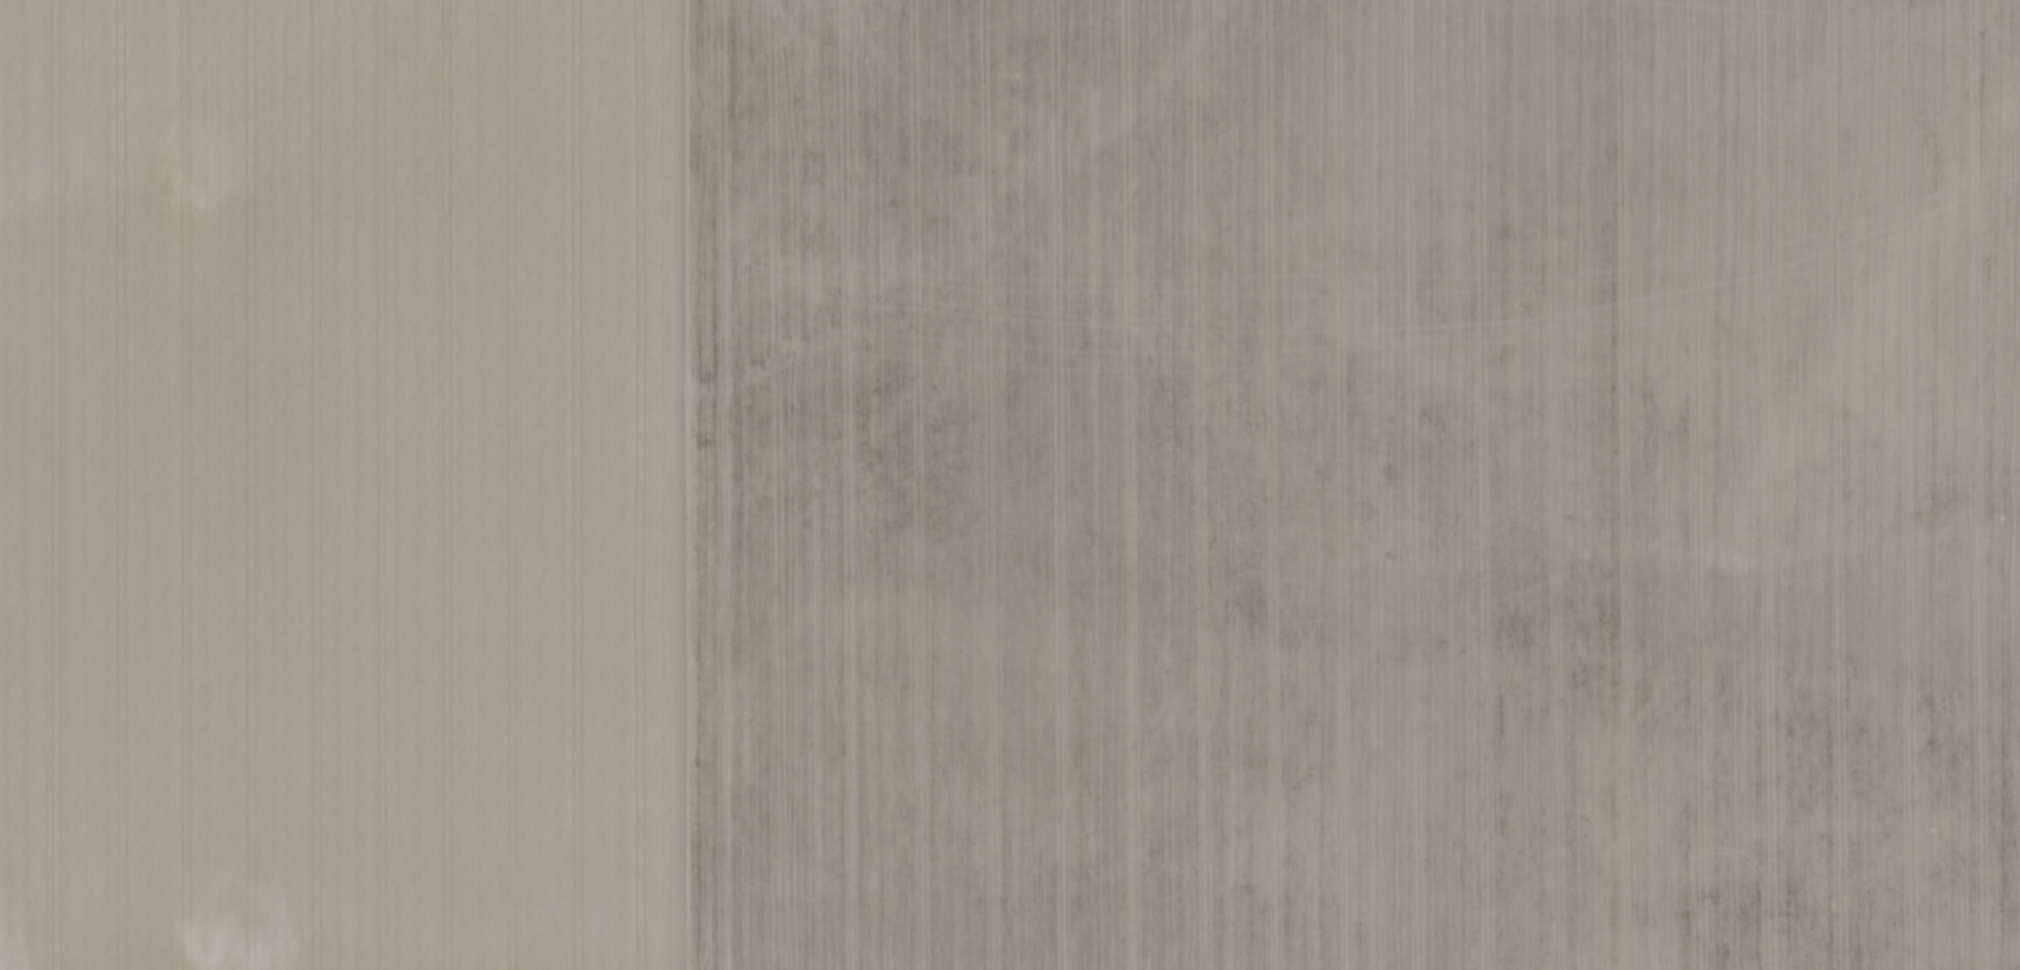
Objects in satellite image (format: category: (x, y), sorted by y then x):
road: (675, 485)

